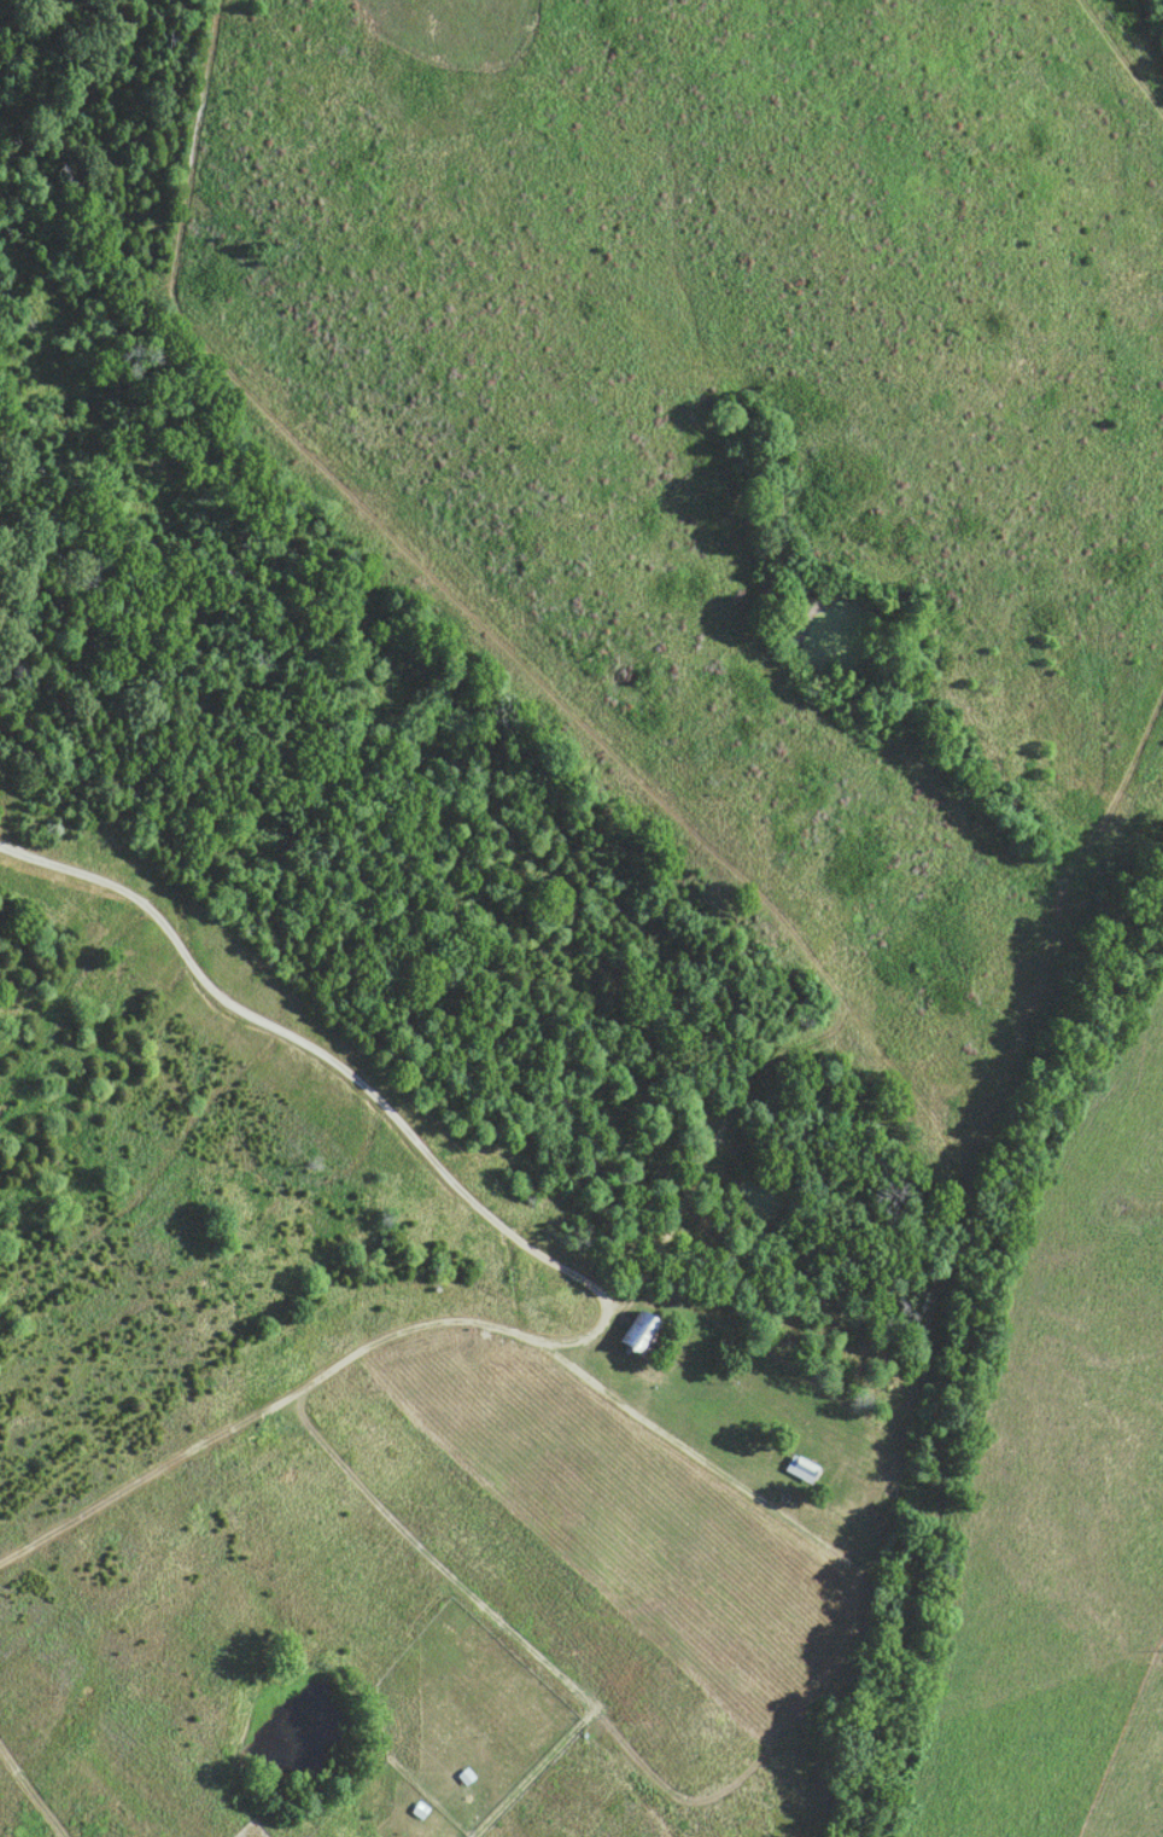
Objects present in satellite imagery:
building: (636, 1332)
building: (799, 1469)

